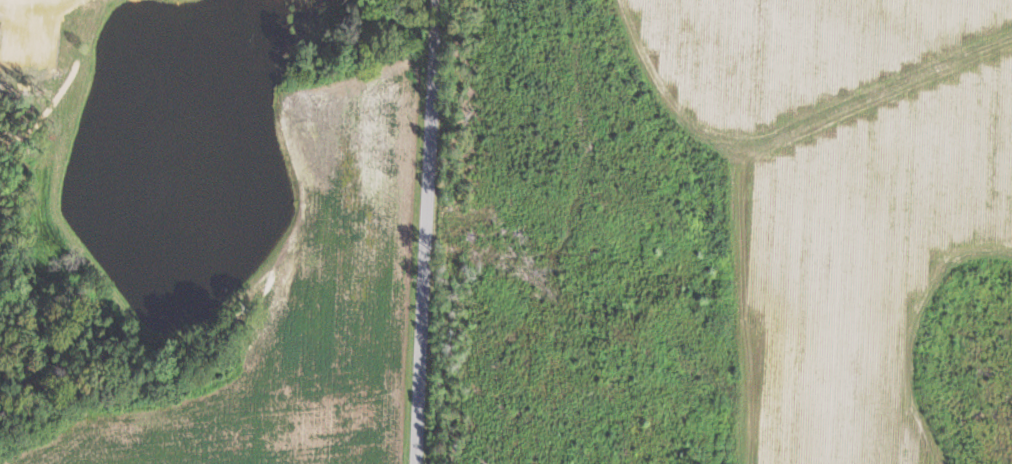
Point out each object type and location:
road: (423, 231)

